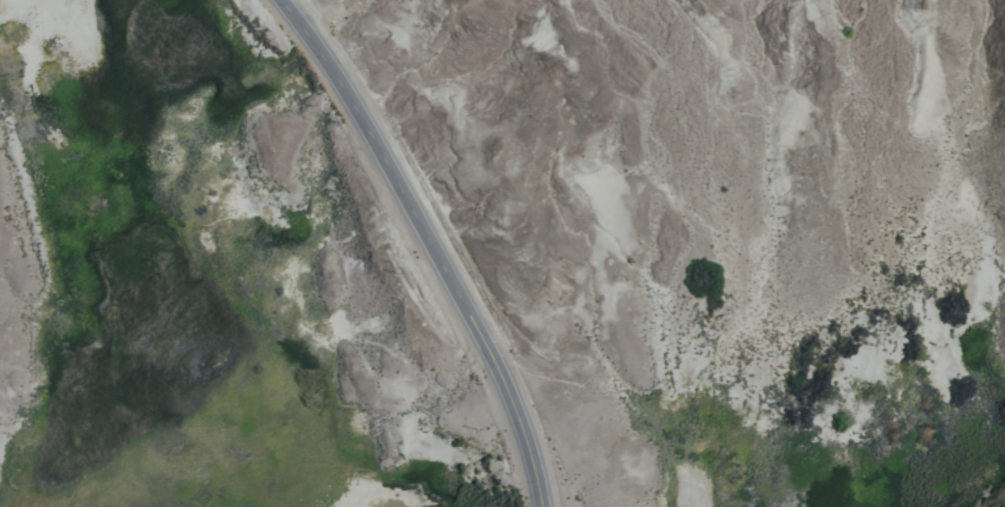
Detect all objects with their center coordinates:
road: (432, 243)

